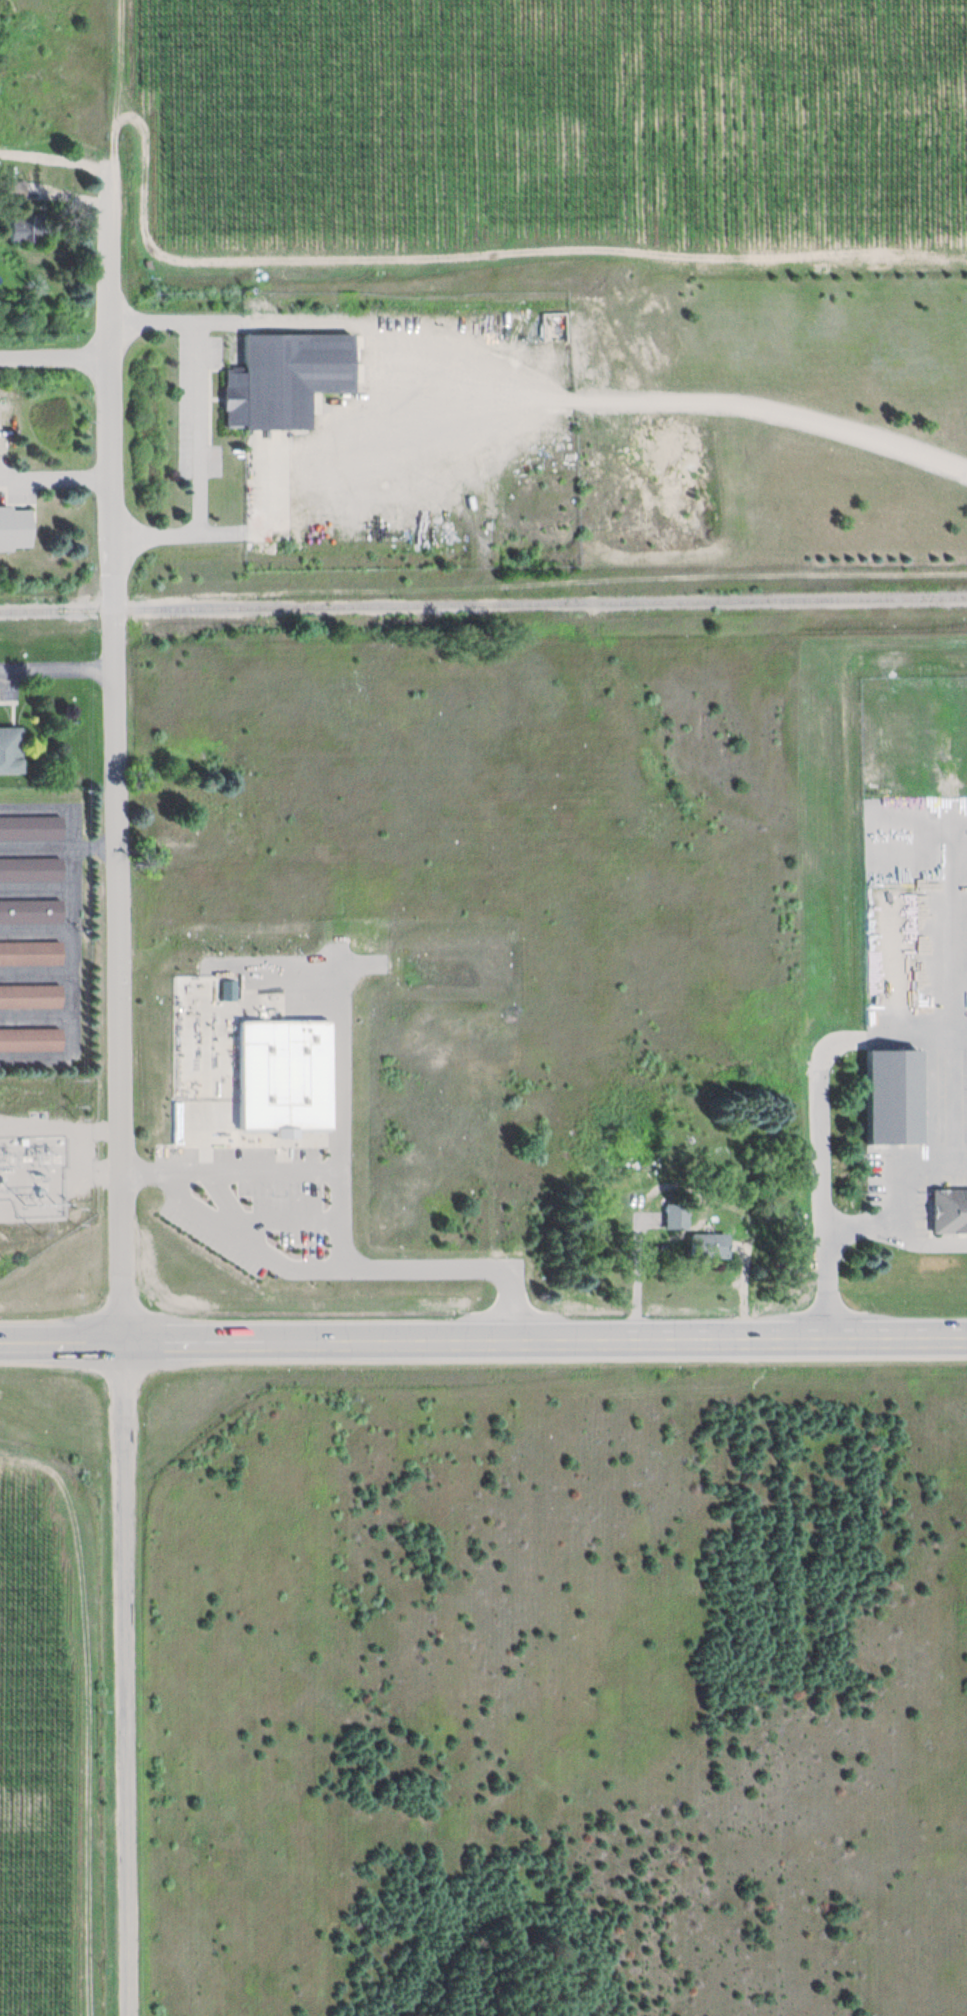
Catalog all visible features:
building: (11, 189)
building: (24, 230)
road: (277, 320)
building: (558, 326)
road: (59, 355)
building: (284, 378)
road: (117, 399)
road: (206, 426)
building: (15, 527)
road: (183, 532)
railway: (483, 604)
road: (58, 667)
building: (10, 749)
building: (198, 813)
building: (29, 827)
road: (59, 846)
building: (29, 869)
road: (38, 888)
building: (29, 911)
road: (38, 929)
road: (77, 931)
building: (30, 952)
road: (39, 972)
road: (121, 984)
building: (30, 995)
road: (952, 1002)
road: (39, 1016)
building: (30, 1038)
building: (890, 1096)
road: (825, 1130)
road: (901, 1164)
power substation: (13, 1166)
road: (236, 1169)
building: (949, 1209)
building: (675, 1214)
road: (898, 1230)
road: (346, 1231)
building: (705, 1243)
road: (261, 1246)
road: (483, 1341)
road: (132, 1679)

